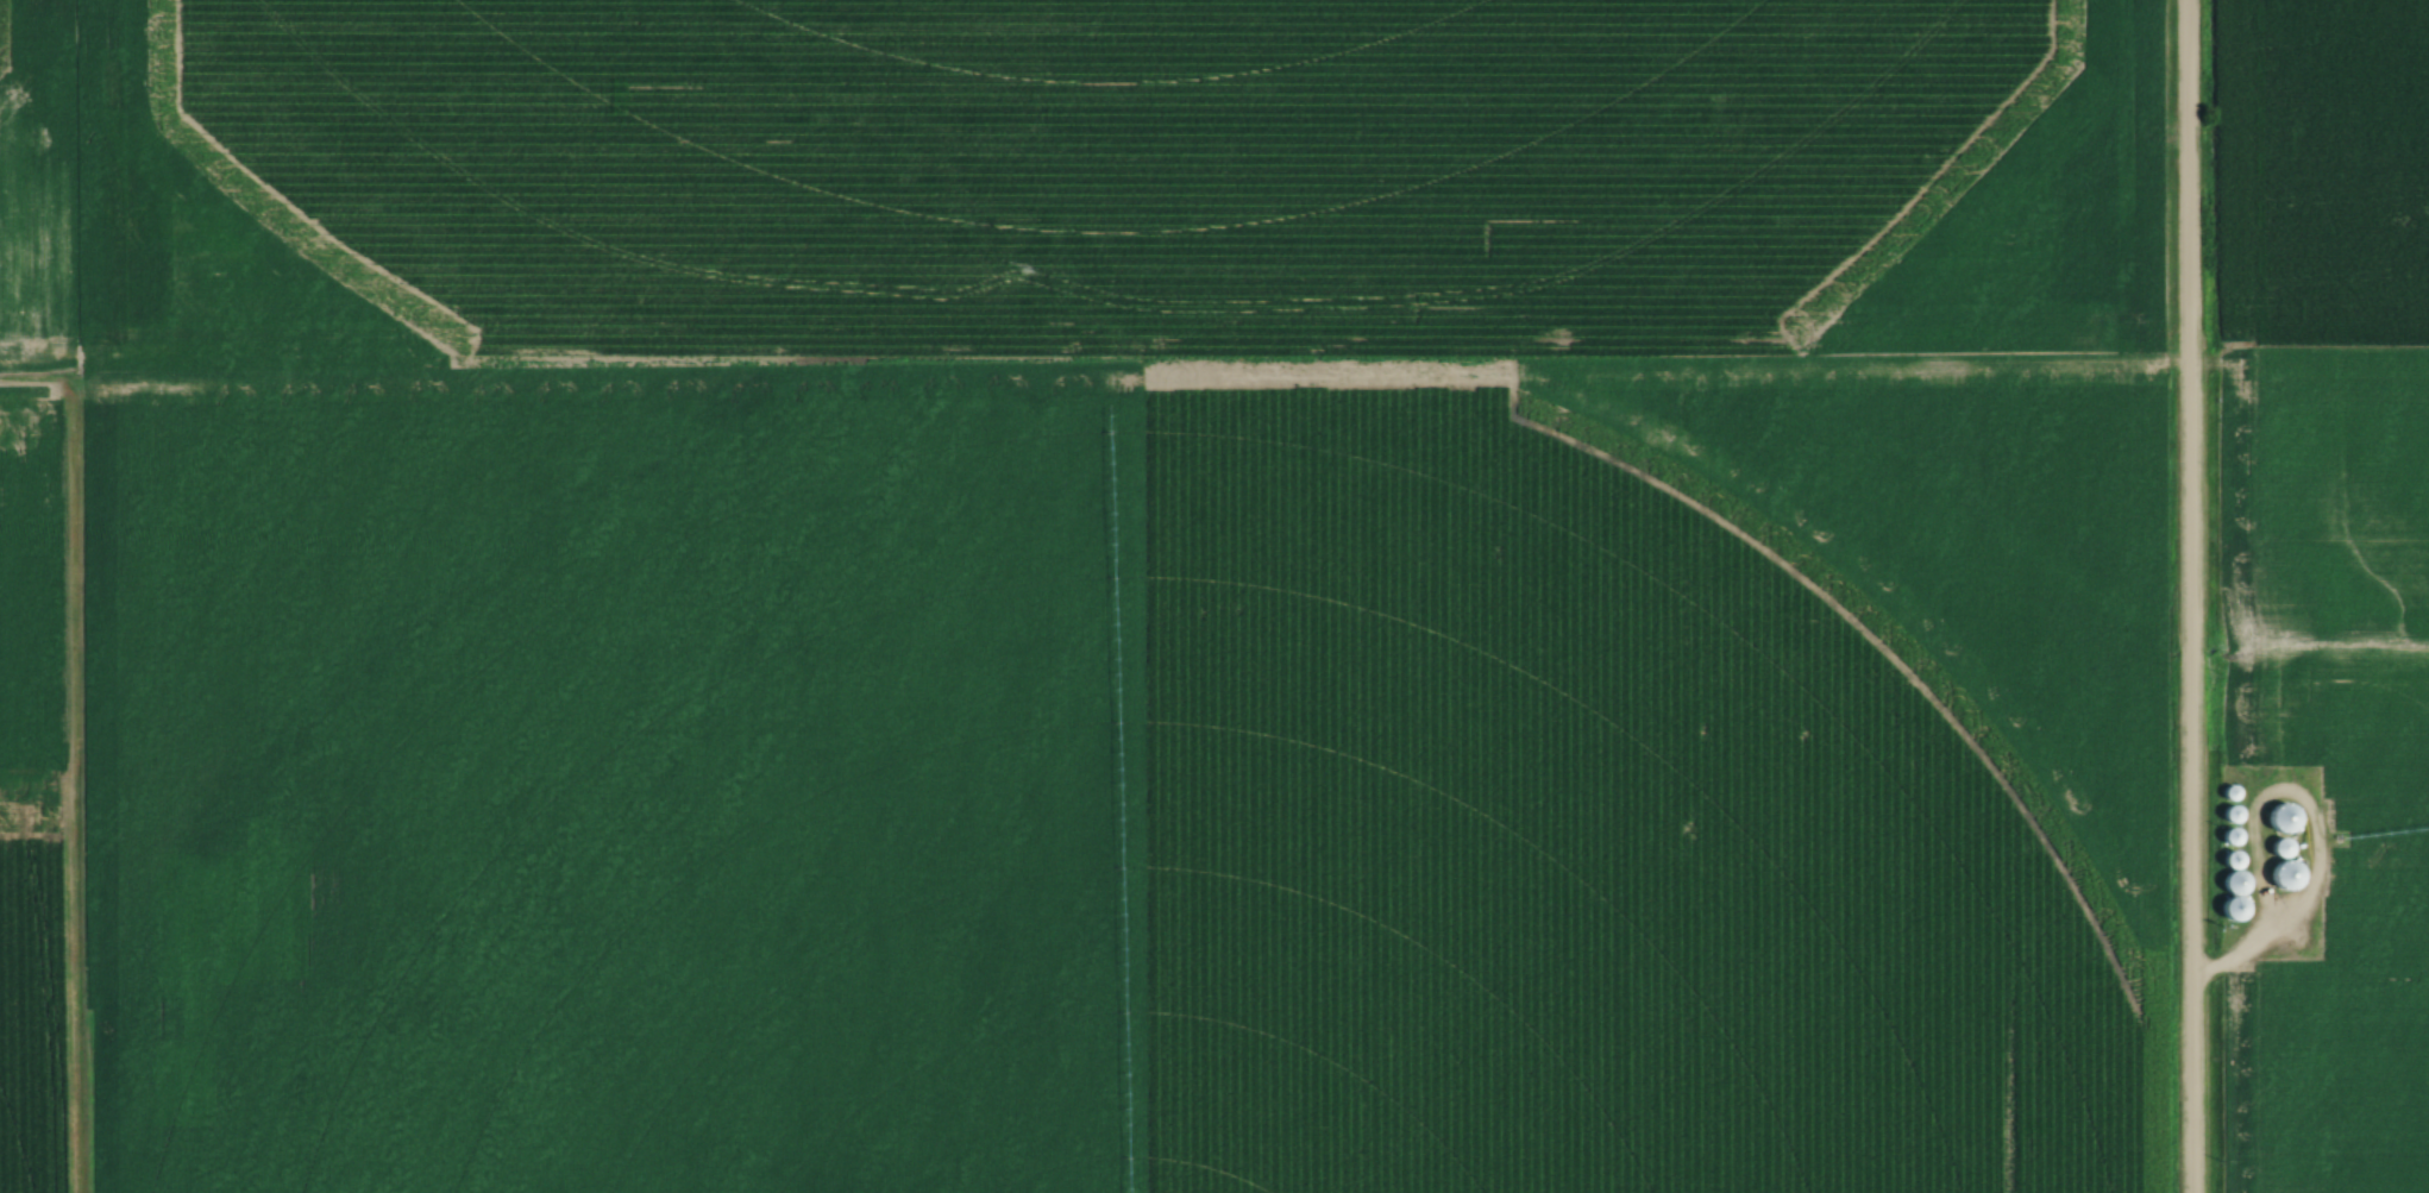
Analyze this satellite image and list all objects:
road: (2186, 596)
building: (2232, 816)
building: (2283, 820)
building: (2281, 848)
building: (2285, 875)
building: (2237, 883)

